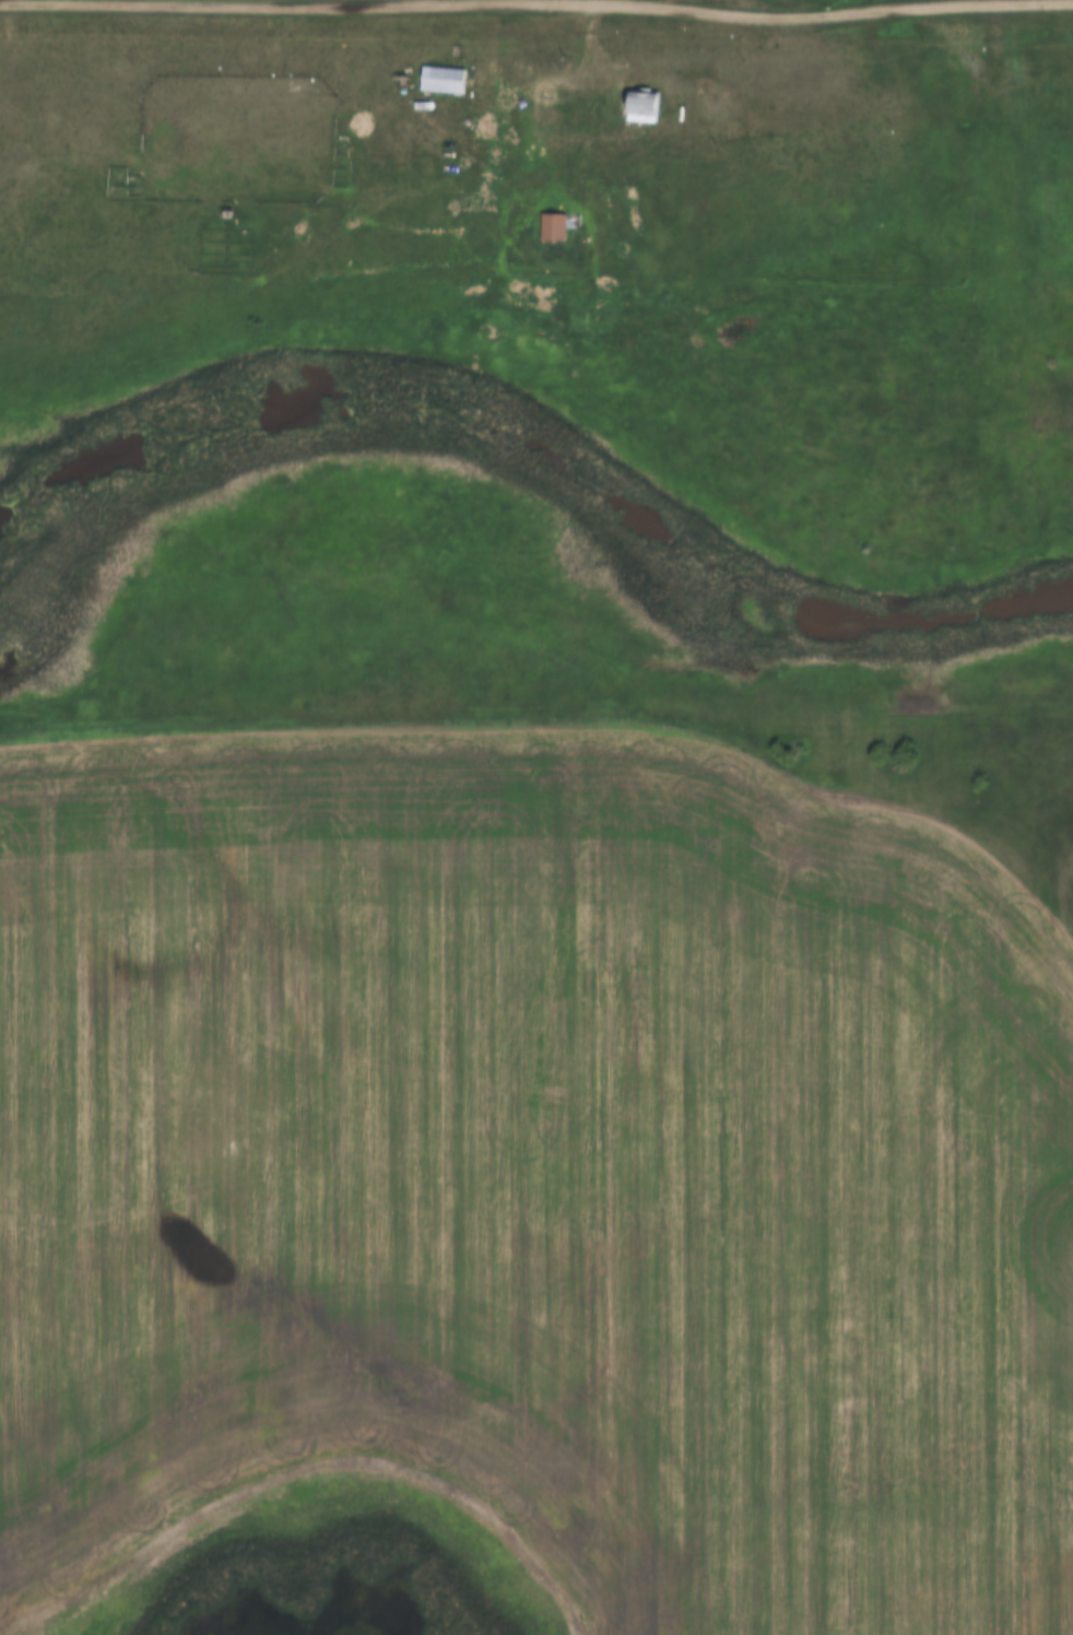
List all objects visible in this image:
road: (536, 1)
road: (596, 56)
building: (437, 80)
building: (635, 106)
building: (552, 226)

